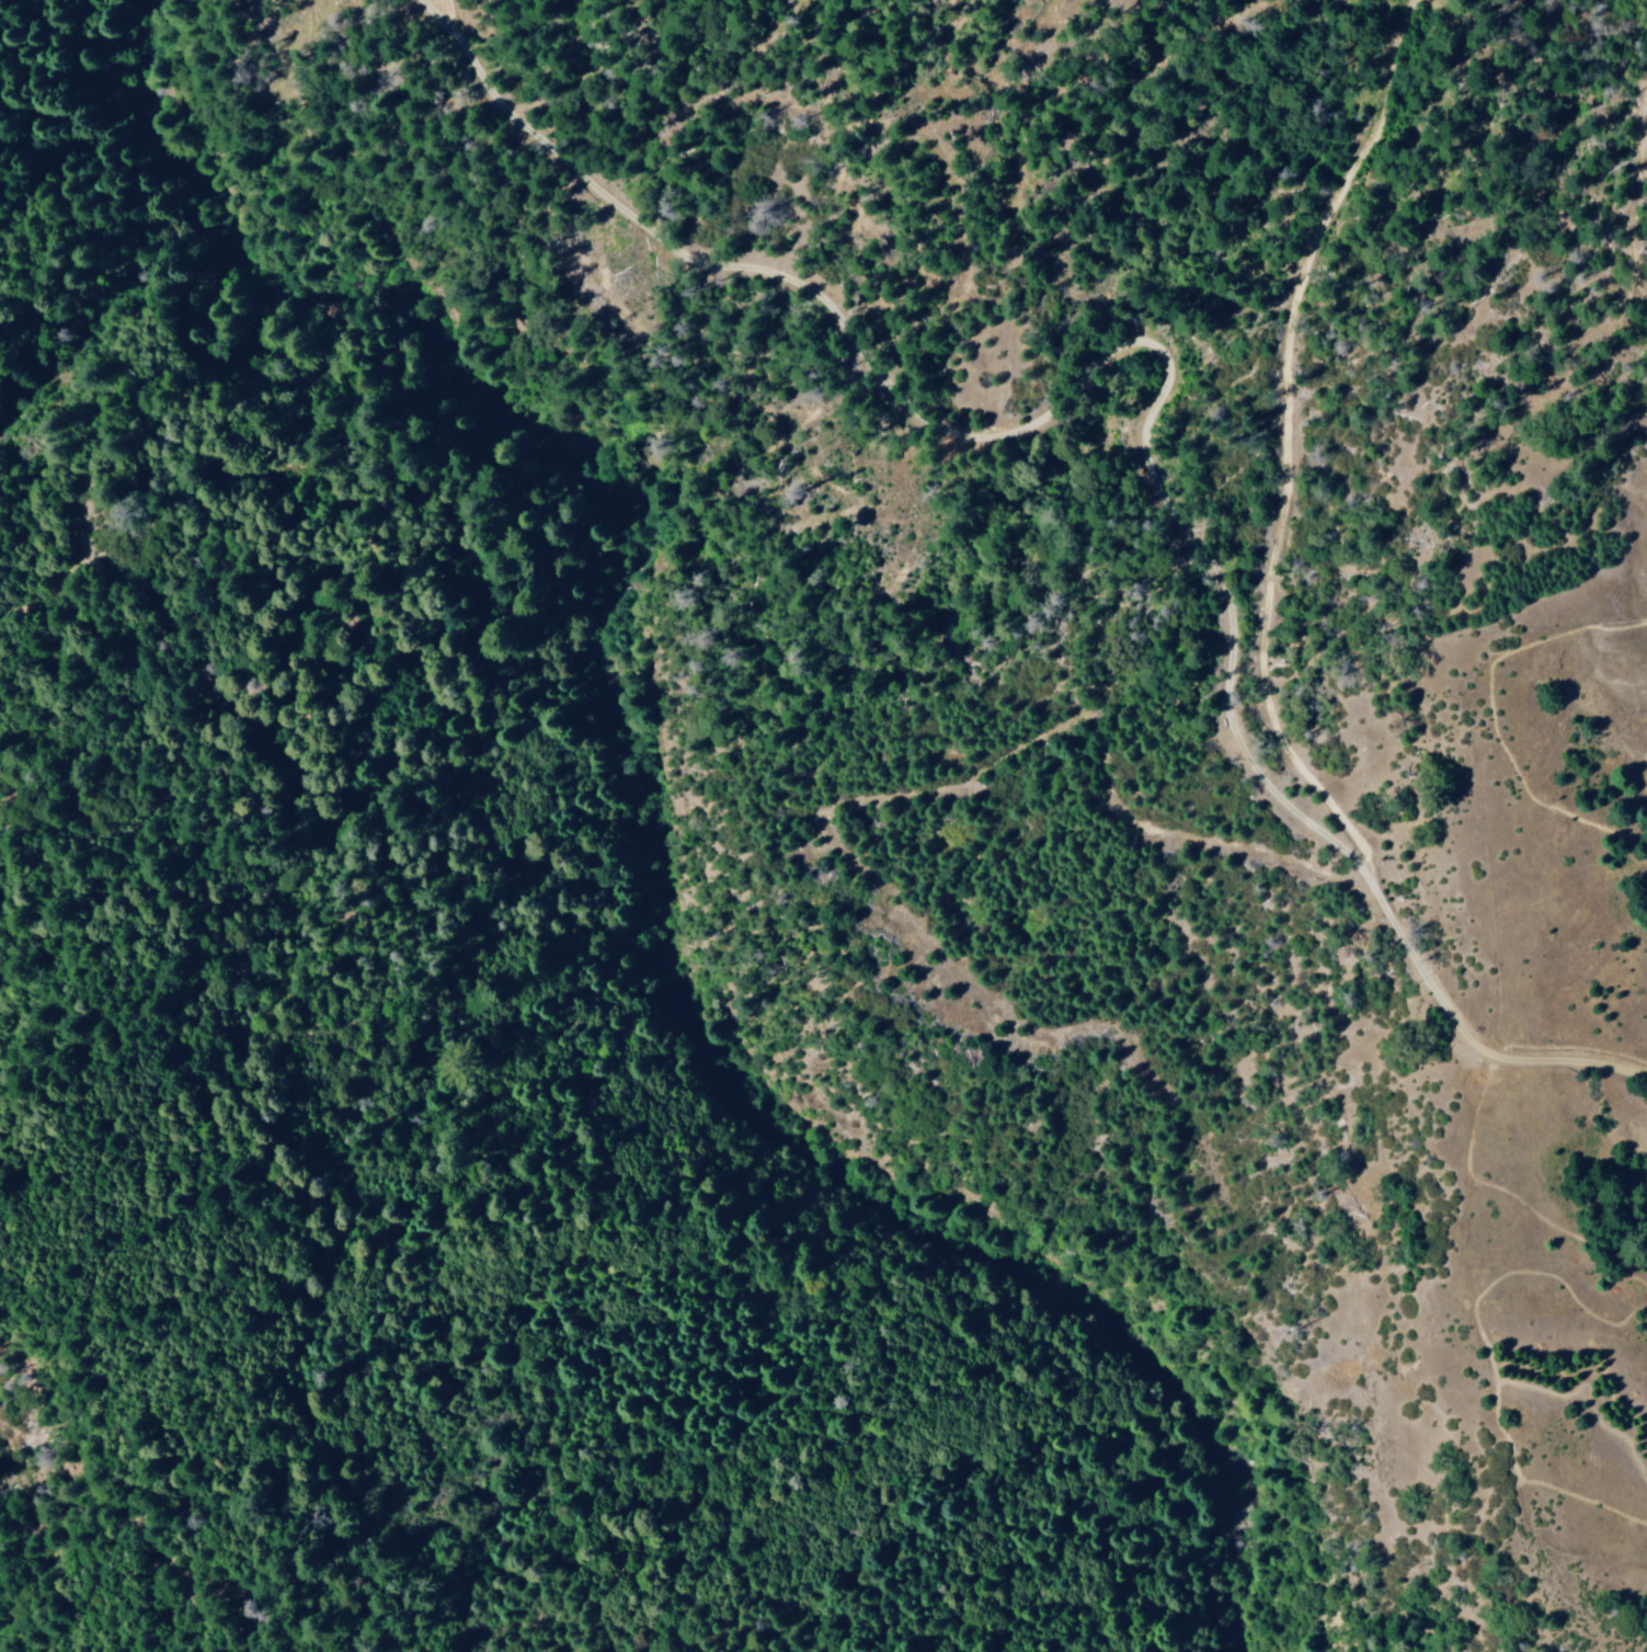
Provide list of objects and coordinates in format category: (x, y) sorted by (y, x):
road: (1271, 623)

